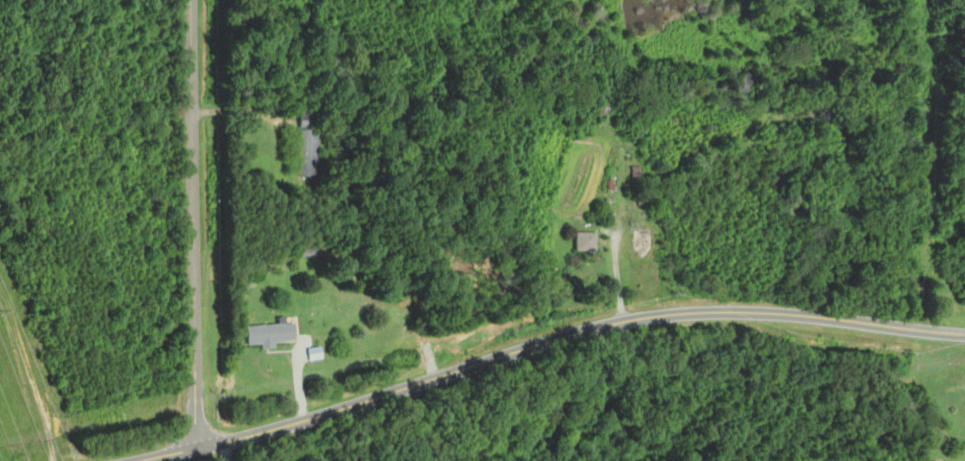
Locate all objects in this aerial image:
building: (591, 44)
building: (601, 106)
road: (242, 109)
building: (310, 120)
building: (309, 152)
road: (192, 223)
building: (584, 241)
building: (642, 241)
building: (310, 253)
building: (812, 263)
building: (271, 335)
road: (543, 340)
road: (225, 451)

